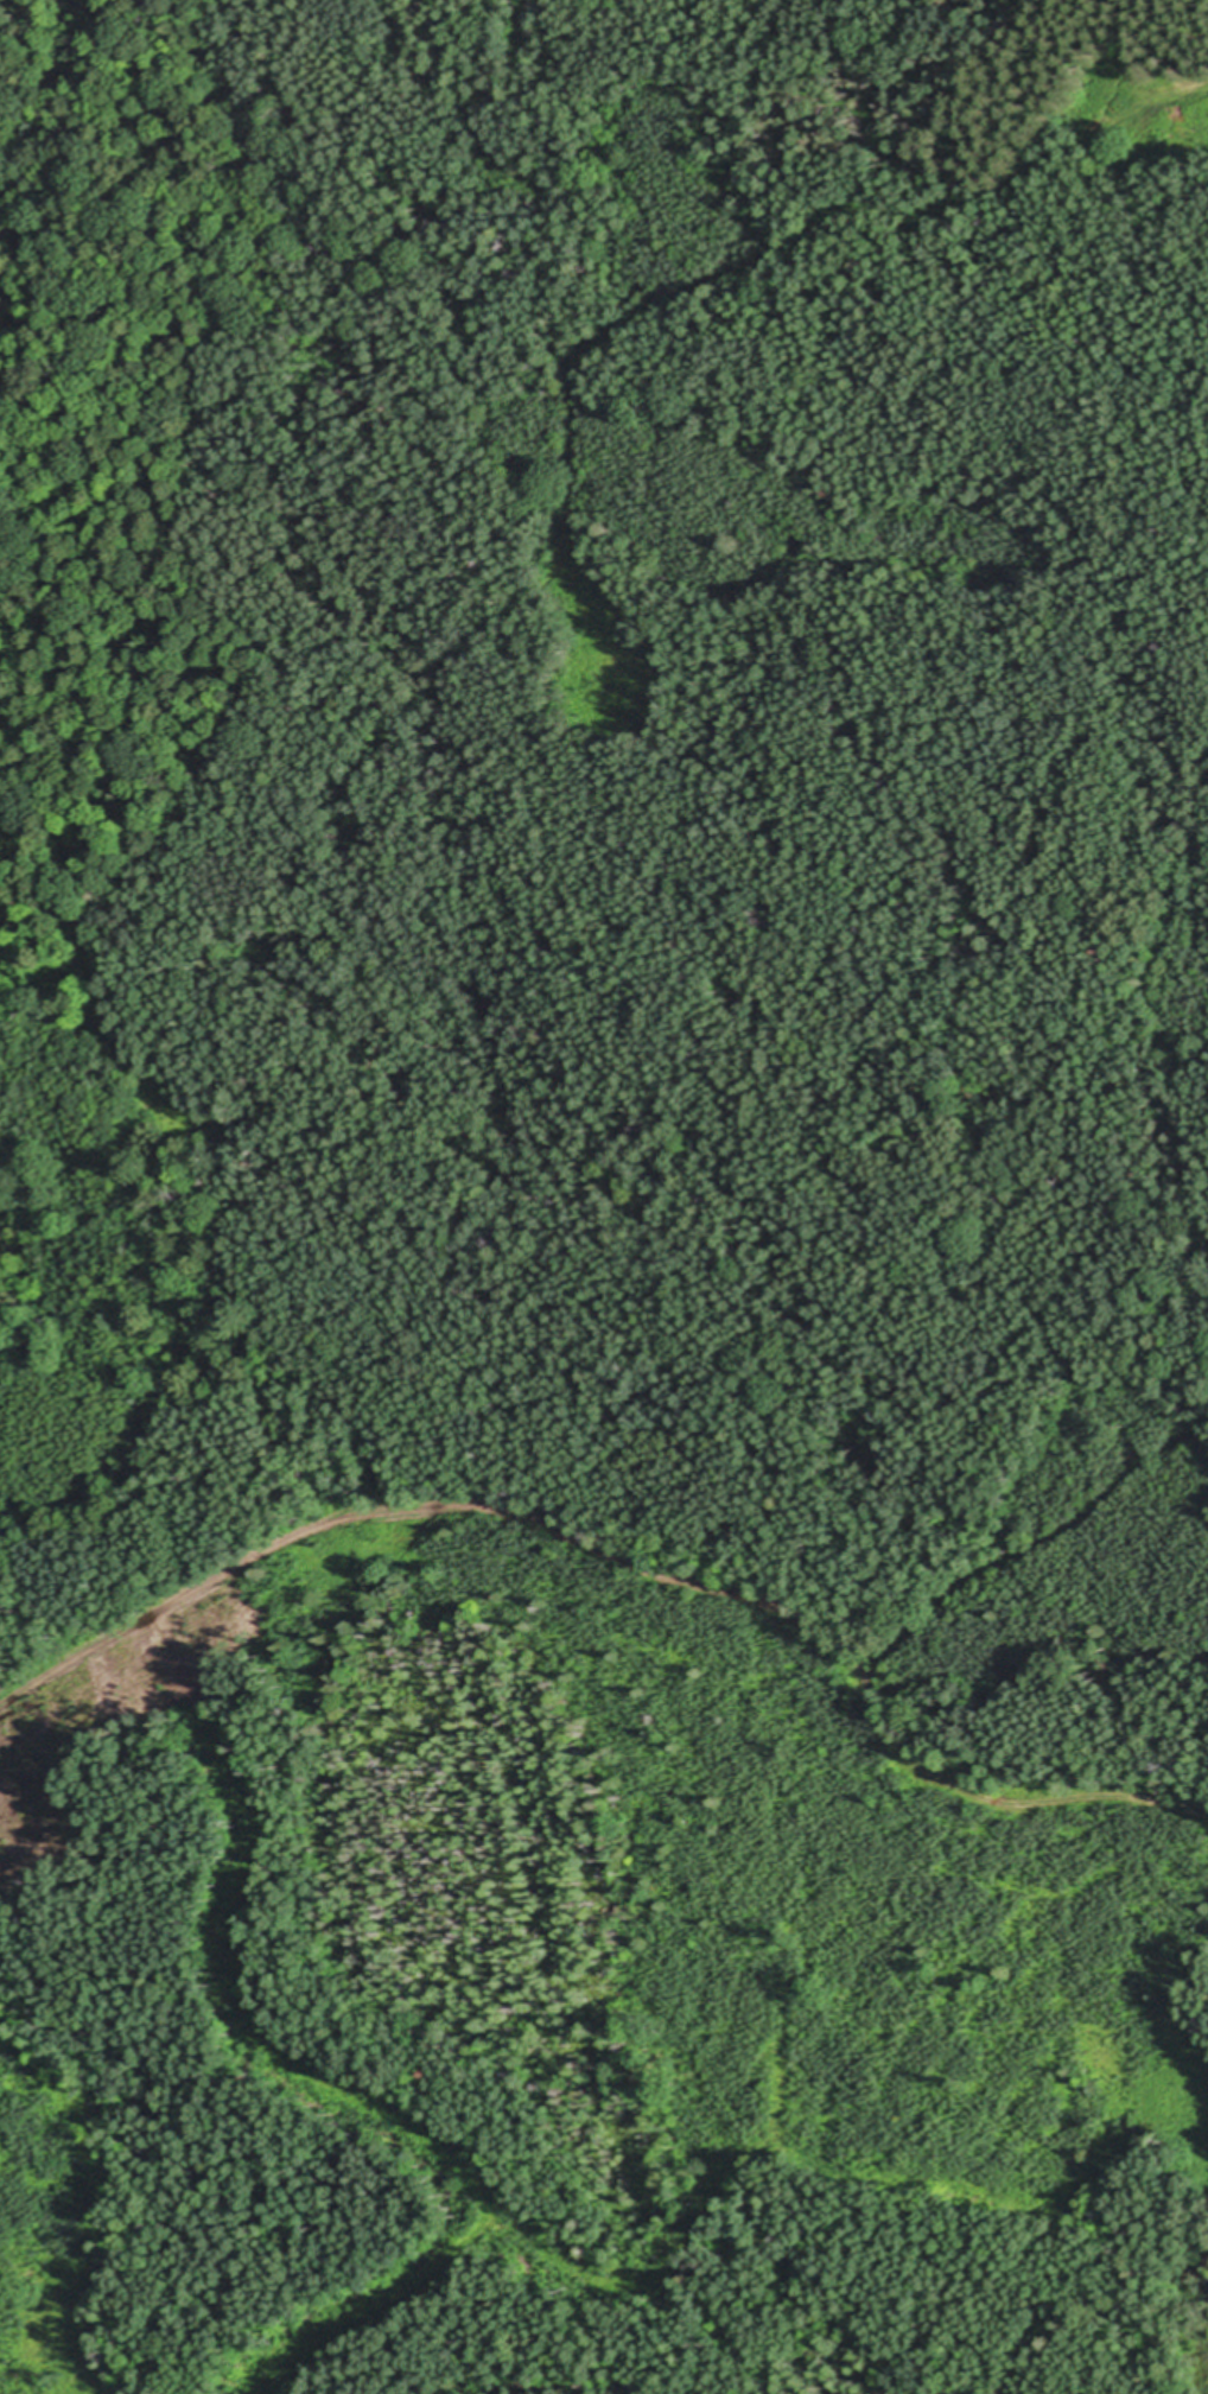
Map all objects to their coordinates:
road: (451, 655)
road: (1032, 1548)
road: (166, 1606)
road: (801, 1621)

